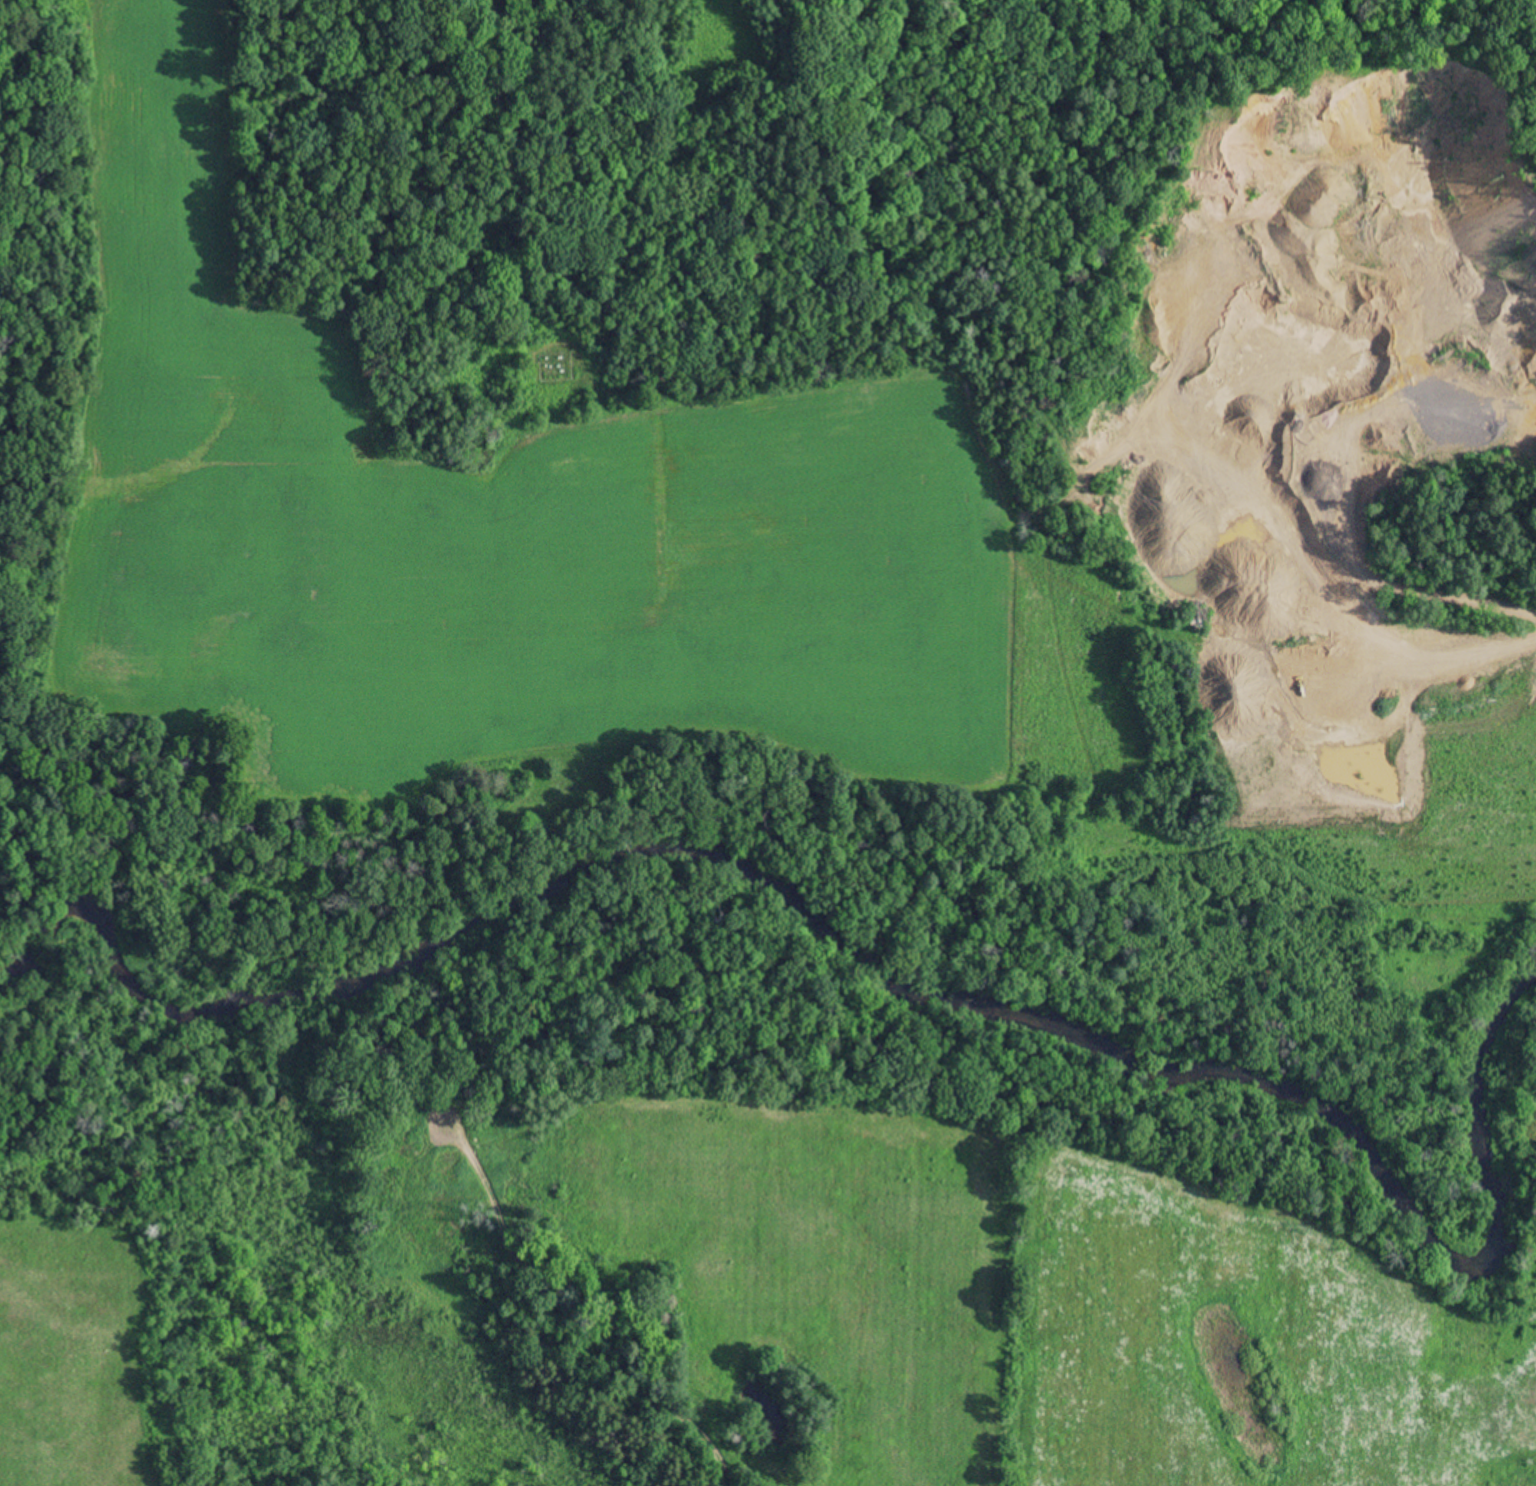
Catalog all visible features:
quarry: (1301, 344)
road: (991, 792)
river: (794, 918)

